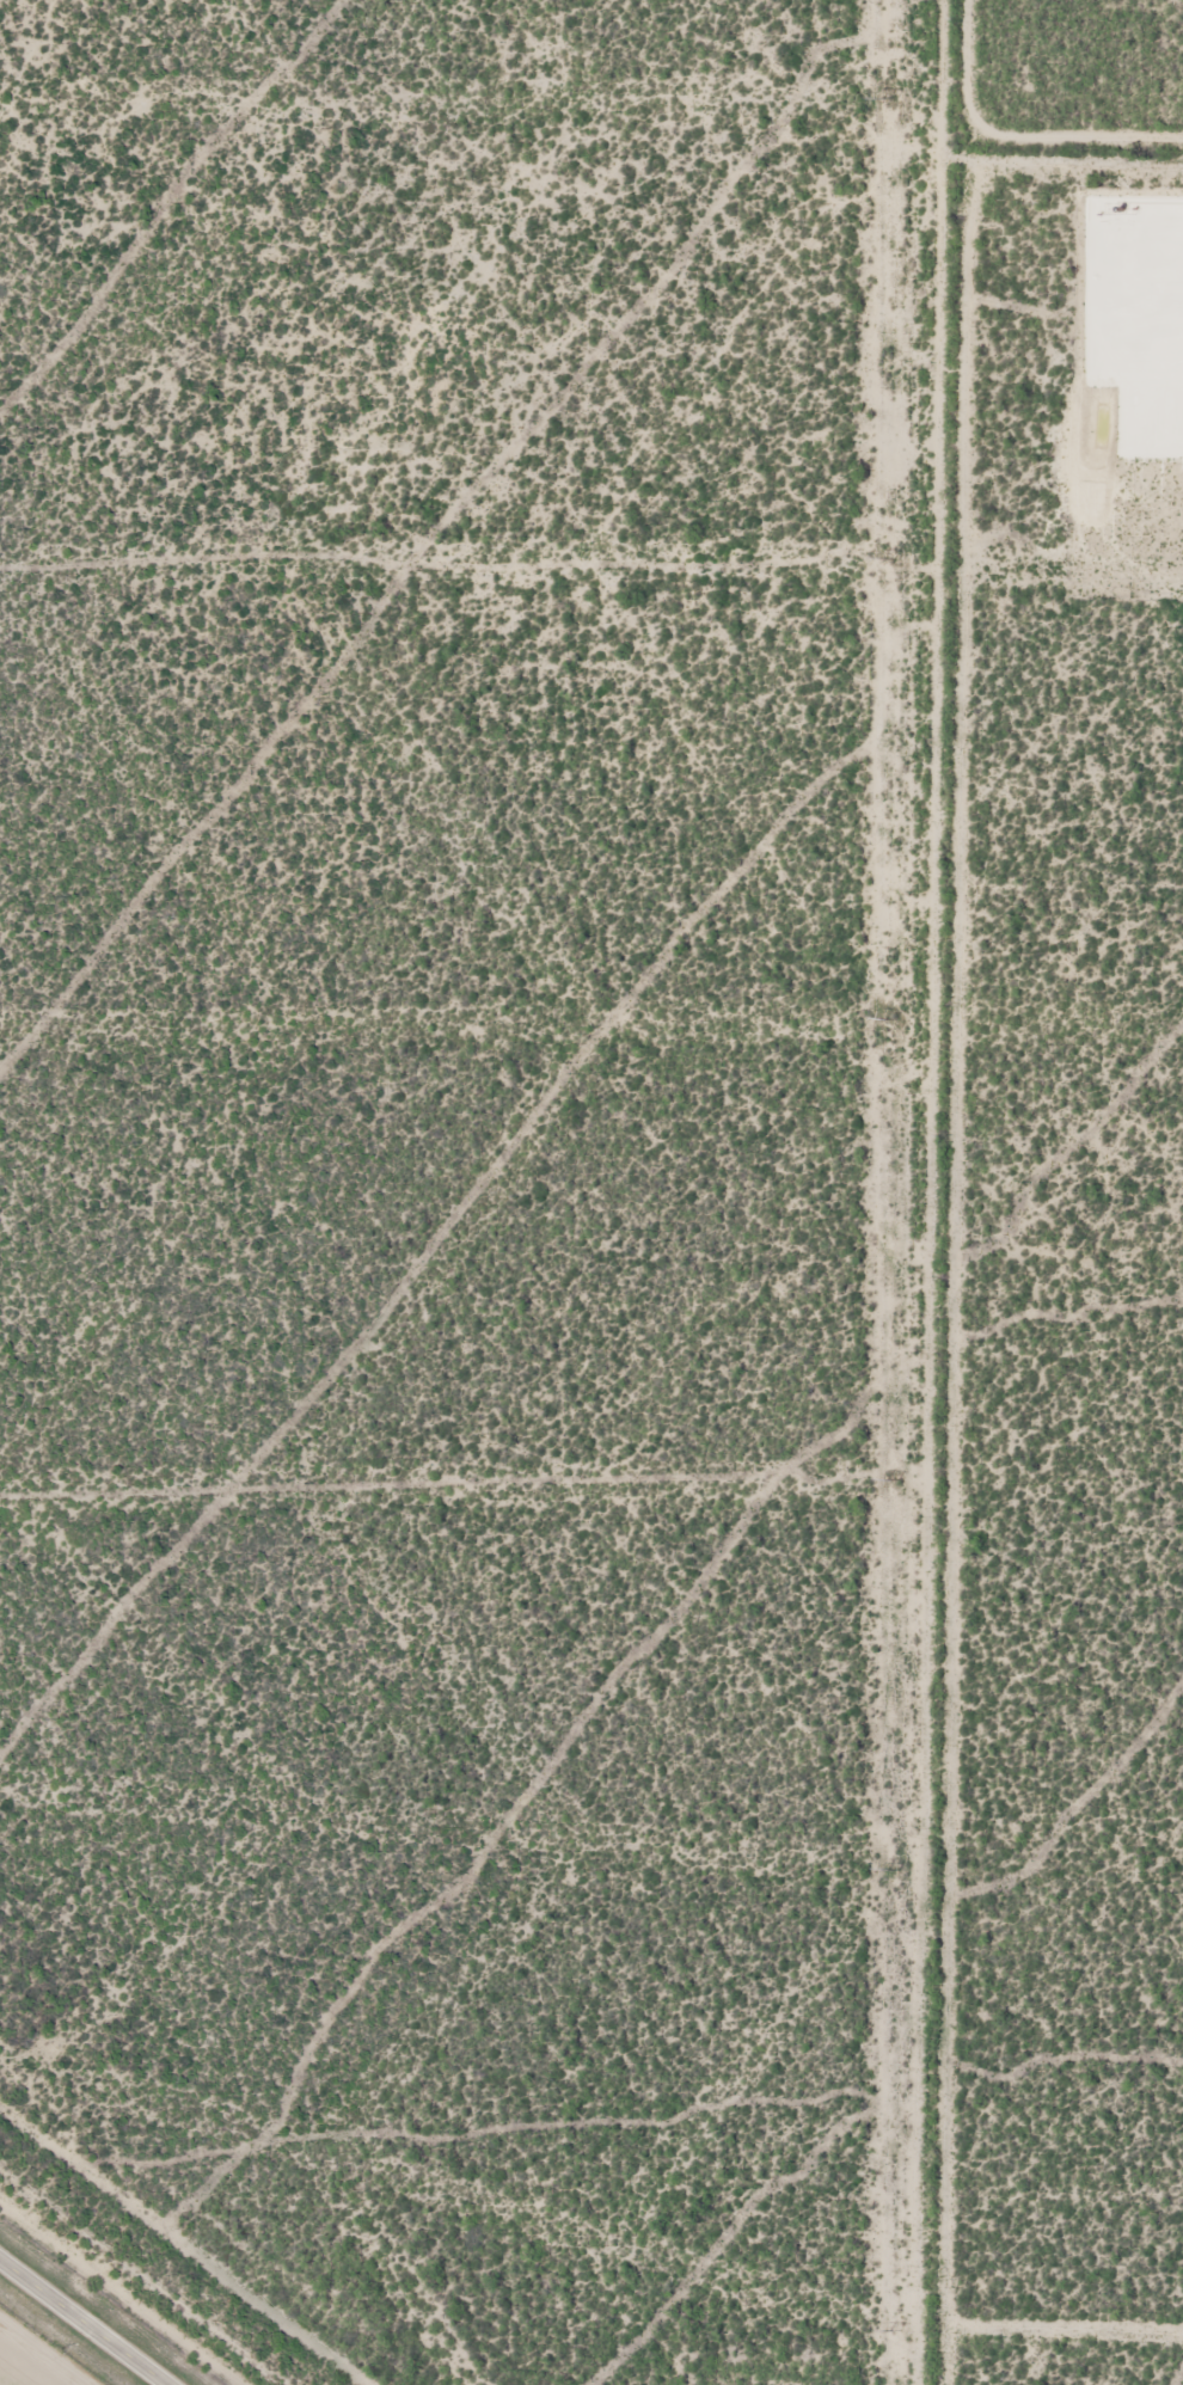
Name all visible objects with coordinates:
power tower: (901, 97)
power tower: (901, 558)
power tower: (891, 1019)
power tower: (899, 1479)
power tower: (896, 1869)
road: (90, 2317)
power tower: (899, 2331)

